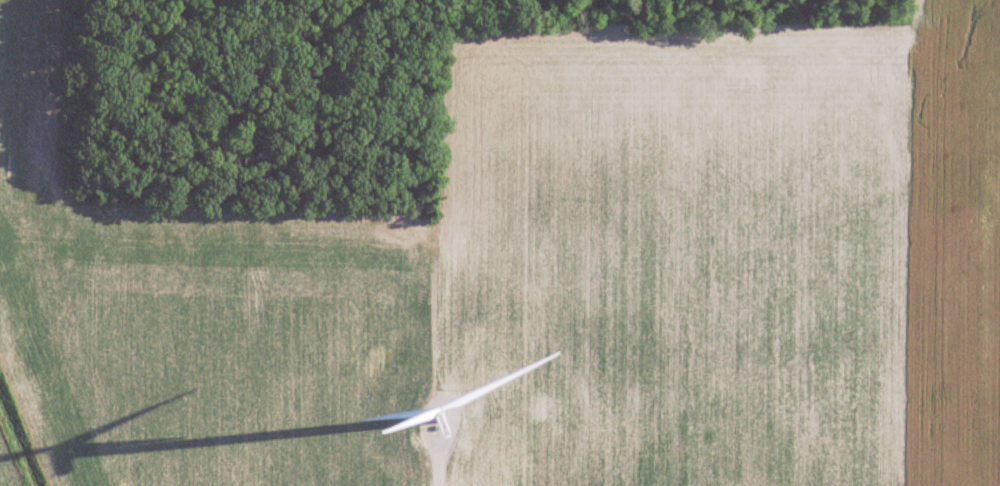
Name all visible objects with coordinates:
wind turbine: (428, 410)
road: (417, 485)

